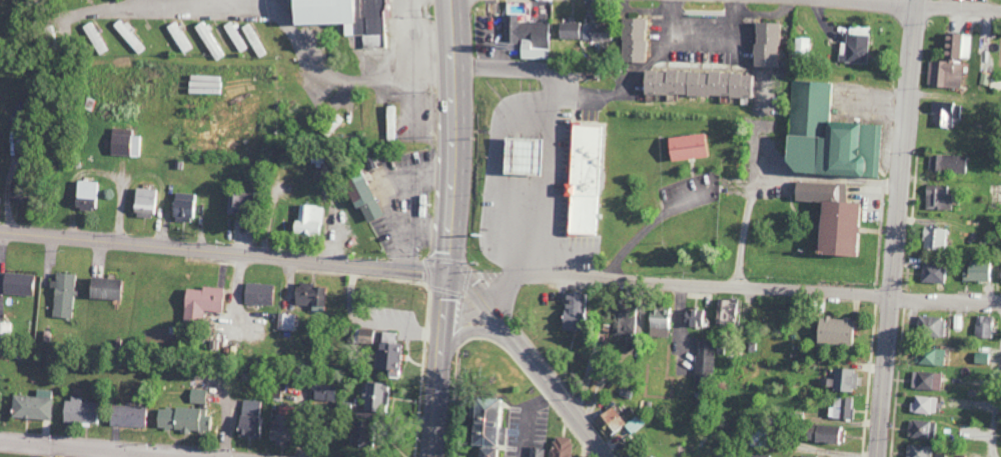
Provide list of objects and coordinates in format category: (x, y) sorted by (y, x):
road: (946, 3)
building: (491, 7)
building: (343, 17)
road: (275, 26)
building: (89, 30)
building: (583, 31)
building: (128, 36)
building: (178, 37)
building: (527, 37)
building: (631, 39)
building: (210, 40)
building: (253, 41)
building: (764, 44)
building: (803, 44)
building: (101, 47)
building: (949, 58)
road: (458, 81)
building: (697, 83)
building: (945, 114)
building: (391, 123)
building: (826, 137)
building: (125, 143)
building: (687, 146)
building: (520, 156)
building: (946, 163)
building: (584, 180)
building: (87, 195)
building: (360, 196)
building: (938, 197)
building: (145, 200)
building: (239, 202)
building: (181, 207)
road: (450, 217)
building: (830, 218)
building: (307, 221)
road: (653, 222)
road: (898, 228)
building: (932, 239)
road: (223, 252)
building: (999, 271)
building: (931, 273)
building: (18, 284)
road: (757, 286)
building: (104, 288)
building: (258, 294)
road: (504, 294)
building: (64, 295)
building: (309, 295)
building: (200, 303)
building: (572, 311)
building: (726, 312)
building: (692, 318)
building: (287, 322)
building: (622, 322)
building: (658, 322)
building: (930, 326)
building: (983, 326)
building: (6, 329)
building: (834, 331)
road: (462, 333)
building: (363, 336)
road: (529, 350)
building: (387, 354)
building: (930, 357)
building: (982, 357)
building: (704, 358)
road: (441, 365)
building: (842, 380)
building: (926, 380)
building: (324, 392)
building: (198, 396)
building: (374, 397)
building: (925, 405)
building: (33, 406)
building: (251, 407)
building: (842, 409)
building: (78, 411)
building: (127, 416)
building: (182, 419)
building: (612, 420)
building: (635, 424)
building: (484, 425)
building: (247, 426)
building: (920, 429)
building: (354, 433)
building: (822, 433)
building: (277, 435)
building: (560, 447)
road: (100, 449)
building: (918, 451)
building: (534, 452)
building: (940, 455)
building: (755, 456)
building: (806, 456)

